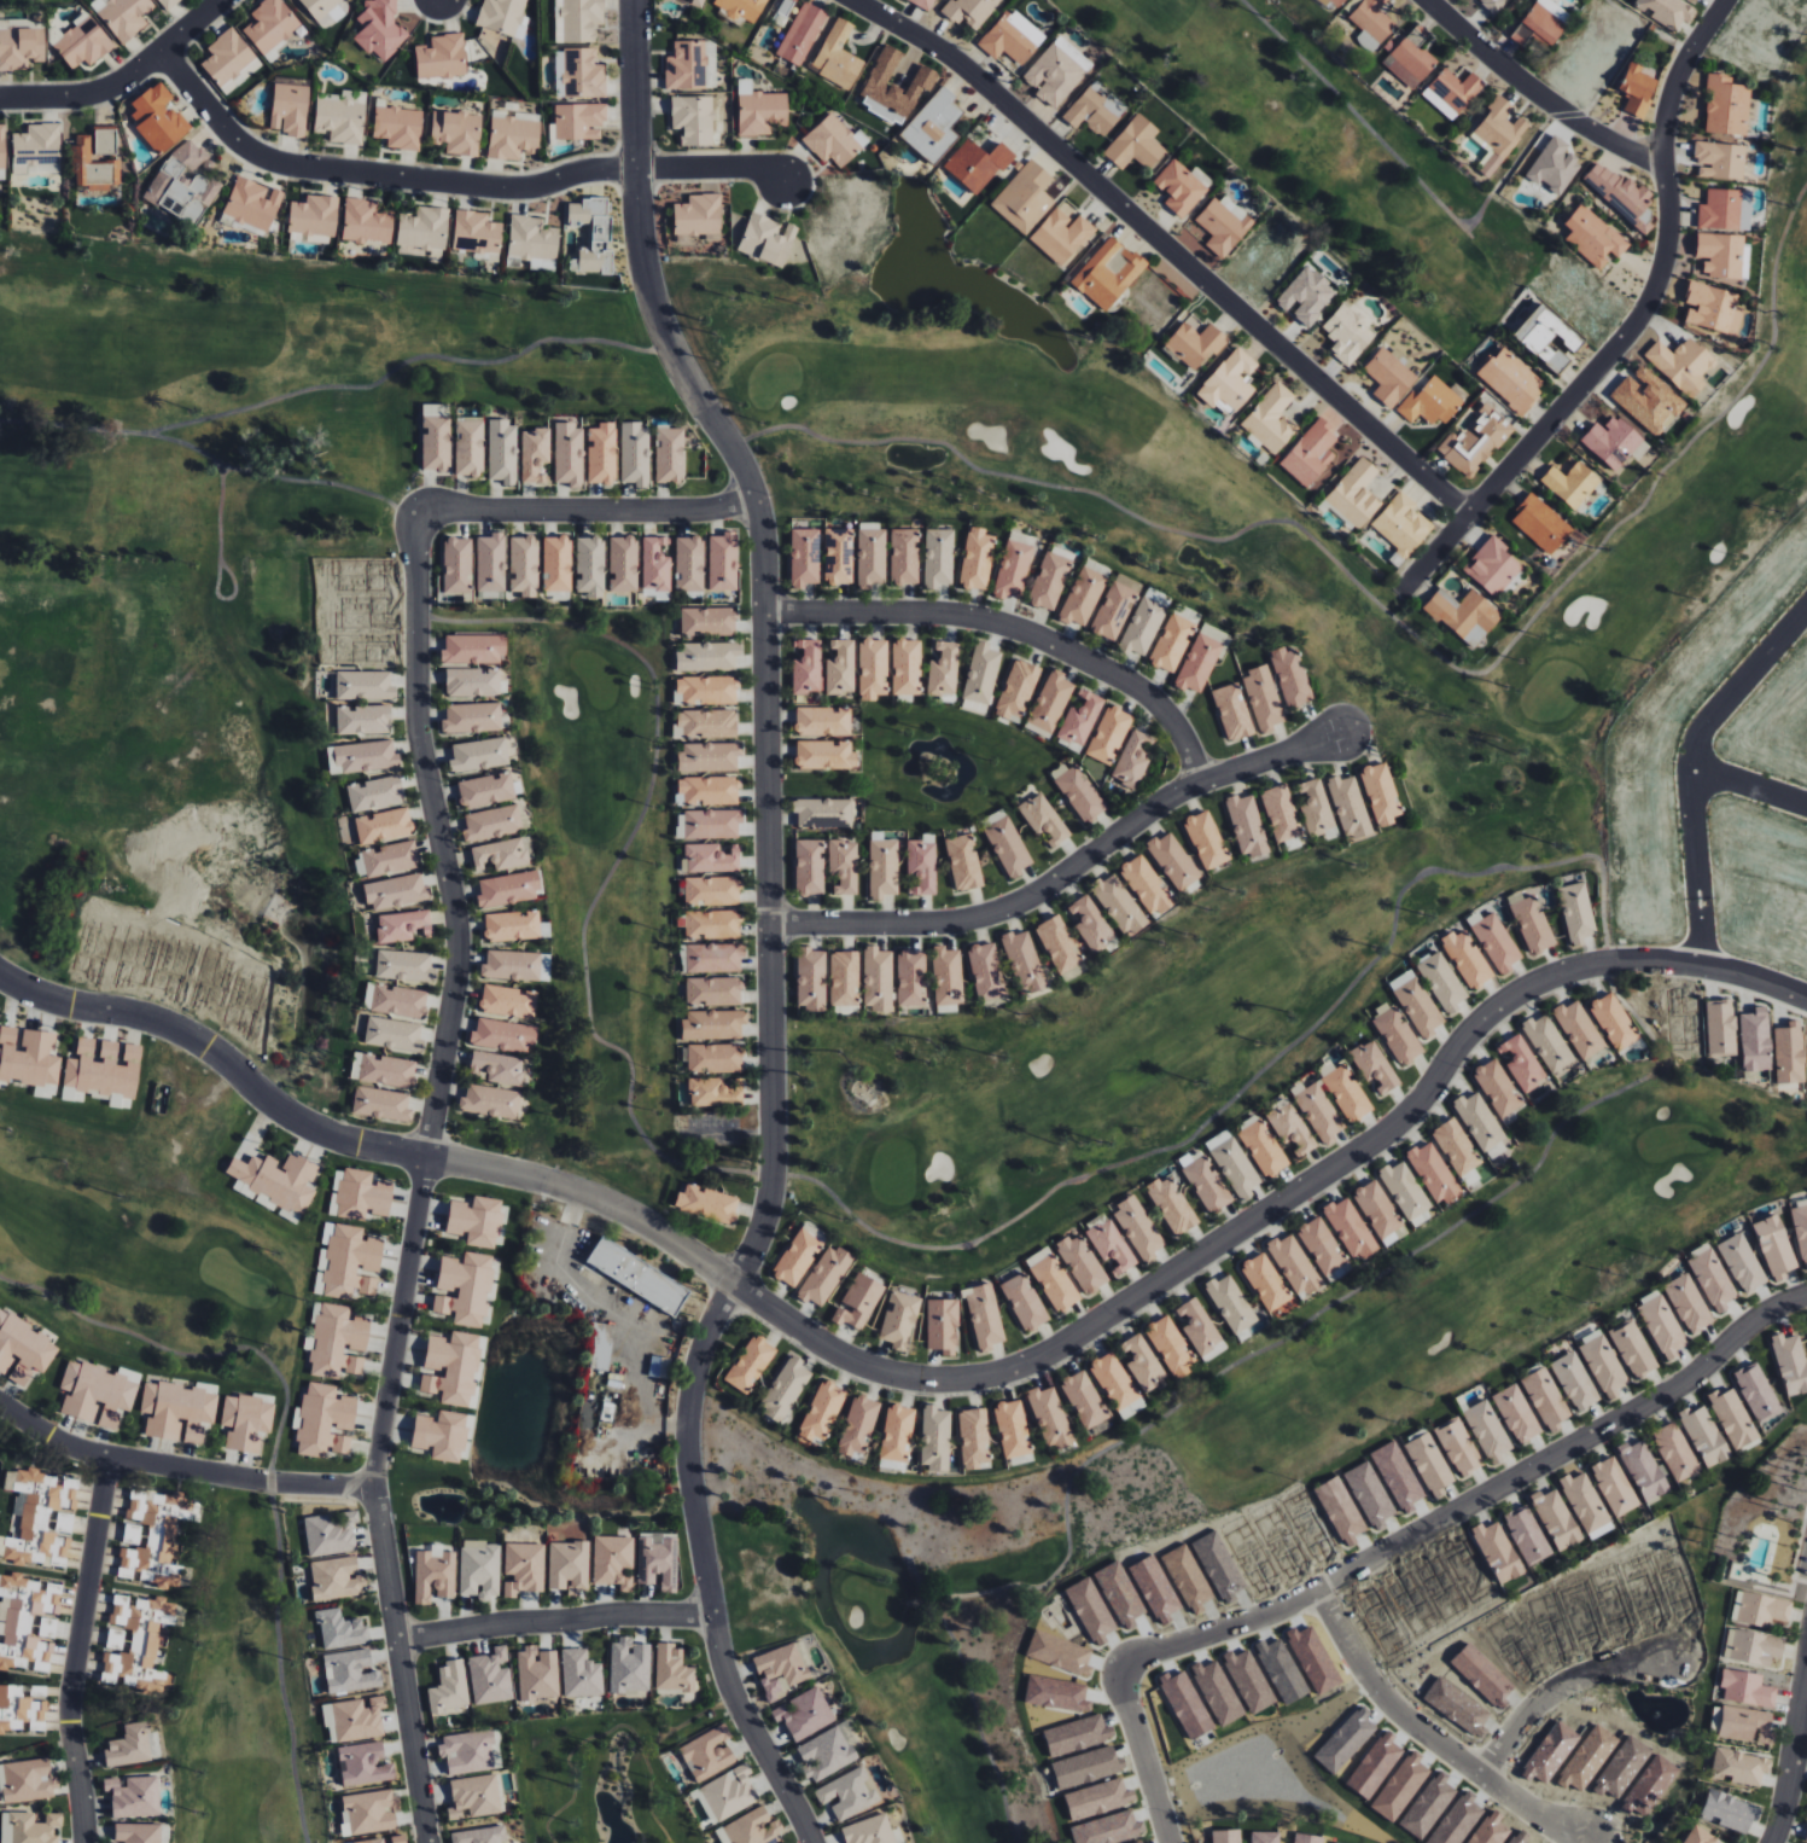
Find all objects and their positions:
building: (1475, 0)
park: (35, 2)
building: (167, 2)
building: (695, 2)
building: (922, 2)
building: (1337, 2)
building: (1493, 5)
building: (741, 7)
building: (326, 11)
building: (970, 11)
building: (1667, 11)
building: (785, 13)
building: (123, 16)
building: (502, 17)
building: (577, 19)
building: (1541, 22)
building: (1371, 23)
building: (270, 24)
building: (380, 28)
building: (802, 33)
building: (83, 41)
building: (1009, 41)
building: (21, 47)
building: (838, 56)
building: (227, 57)
building: (442, 57)
building: (1411, 58)
road: (1621, 63)
building: (689, 66)
building: (583, 72)
building: (1055, 72)
building: (241, 76)
road: (123, 80)
building: (893, 86)
building: (1456, 89)
building: (1638, 91)
road: (1537, 94)
building: (1726, 105)
building: (290, 106)
building: (759, 109)
building: (1094, 111)
building: (157, 117)
building: (342, 117)
building: (695, 120)
building: (578, 121)
building: (933, 126)
building: (398, 127)
building: (456, 132)
building: (1498, 134)
building: (513, 136)
building: (834, 140)
building: (105, 141)
building: (1136, 144)
building: (2, 146)
building: (37, 149)
park: (1339, 152)
building: (81, 158)
building: (1720, 159)
building: (978, 164)
building: (1555, 164)
road: (711, 169)
road: (1407, 169)
road: (636, 174)
road: (375, 175)
building: (185, 184)
building: (1182, 186)
building: (1621, 193)
building: (1025, 197)
building: (252, 203)
building: (1726, 209)
building: (698, 215)
building: (313, 219)
building: (366, 221)
building: (1224, 223)
building: (424, 227)
building: (476, 232)
building: (1062, 234)
building: (591, 236)
building: (1595, 236)
building: (766, 239)
building: (532, 240)
road: (1167, 248)
building: (1723, 255)
building: (1108, 273)
fountain: (927, 275)
fountain: (975, 295)
building: (1307, 296)
building: (1713, 308)
road: (1632, 327)
building: (1348, 335)
building: (1547, 337)
building: (1196, 342)
building: (1683, 364)
building: (1389, 377)
building: (1511, 379)
building: (1230, 380)
road: (339, 386)
road: (698, 396)
building: (1649, 400)
building: (1430, 402)
building: (1272, 418)
building: (1475, 441)
building: (435, 442)
building: (1614, 442)
building: (468, 446)
building: (502, 452)
building: (601, 453)
building: (634, 453)
building: (1311, 453)
building: (534, 454)
building: (569, 454)
building: (669, 455)
fountain: (914, 459)
road: (280, 479)
building: (1572, 481)
building: (1354, 494)
road: (584, 511)
building: (1401, 524)
building: (1541, 524)
building: (839, 556)
building: (872, 556)
building: (904, 556)
building: (805, 557)
building: (939, 557)
building: (978, 558)
road: (220, 562)
building: (490, 562)
building: (723, 562)
building: (555, 563)
building: (689, 563)
building: (623, 564)
building: (456, 565)
building: (523, 565)
building: (589, 565)
building: (654, 565)
building: (1015, 565)
road: (416, 566)
building: (1493, 566)
building: (1050, 581)
building: (1083, 597)
building: (1115, 606)
road: (1387, 612)
building: (1463, 612)
building: (707, 621)
building: (1142, 626)
road: (1014, 628)
building: (1172, 643)
building: (474, 649)
building: (707, 656)
building: (1199, 663)
building: (905, 667)
building: (806, 668)
building: (840, 668)
building: (944, 668)
building: (873, 669)
building: (981, 673)
building: (1292, 676)
building: (472, 682)
building: (363, 685)
building: (707, 690)
building: (1016, 690)
building: (1264, 698)
building: (1050, 702)
building: (1234, 711)
building: (471, 717)
building: (1080, 719)
building: (362, 720)
building: (822, 721)
building: (705, 723)
building: (1109, 734)
fountain: (940, 748)
building: (478, 755)
building: (824, 755)
building: (365, 756)
building: (709, 756)
building: (1132, 761)
road: (1690, 767)
road: (1748, 785)
building: (485, 790)
building: (709, 790)
building: (1079, 792)
building: (374, 793)
building: (1381, 793)
fountain: (945, 795)
building: (1350, 807)
building: (1317, 809)
building: (823, 812)
building: (1281, 813)
building: (995, 816)
building: (1044, 819)
building: (492, 822)
building: (712, 824)
building: (383, 825)
building: (1247, 825)
building: (1206, 839)
building: (1008, 847)
building: (500, 854)
building: (710, 857)
building: (386, 860)
road: (618, 860)
building: (1174, 861)
building: (963, 862)
building: (922, 864)
road: (768, 866)
building: (844, 866)
building: (810, 867)
building: (882, 868)
road: (1068, 873)
building: (1147, 885)
building: (507, 889)
building: (396, 891)
building: (711, 891)
fountain: (235, 893)
building: (1119, 903)
building: (1576, 913)
building: (1532, 923)
building: (712, 924)
building: (402, 925)
building: (512, 925)
building: (1092, 925)
building: (1496, 941)
park: (1278, 942)
building: (1059, 944)
building: (713, 957)
building: (1467, 958)
building: (1024, 961)
building: (511, 965)
building: (403, 966)
building: (544, 967)
building: (986, 971)
building: (948, 976)
building: (811, 978)
building: (844, 978)
building: (878, 978)
building: (910, 978)
building: (1442, 982)
building: (712, 990)
building: (395, 1001)
building: (508, 1001)
building: (1417, 1004)
fountain: (316, 1006)
building: (1614, 1021)
building: (713, 1024)
building: (1721, 1028)
building: (1580, 1029)
building: (1397, 1033)
building: (392, 1034)
building: (502, 1035)
building: (1756, 1040)
building: (1547, 1042)
building: (1789, 1053)
building: (28, 1057)
building: (715, 1058)
building: (1523, 1063)
building: (1375, 1066)
building: (497, 1068)
building: (103, 1069)
building: (383, 1070)
road: (1254, 1077)
building: (1498, 1088)
building: (716, 1092)
fountain: (859, 1092)
building: (1347, 1093)
building: (490, 1101)
building: (381, 1104)
building: (1318, 1111)
building: (1482, 1126)
building: (1292, 1128)
building: (1456, 1147)
building: (1264, 1149)
building: (1234, 1164)
building: (1434, 1173)
building: (276, 1180)
building: (1207, 1185)
building: (1405, 1190)
building: (359, 1194)
building: (706, 1203)
building: (1172, 1207)
building: (1380, 1211)
building: (477, 1221)
road: (567, 1227)
building: (1138, 1228)
building: (1350, 1228)
building: (1801, 1228)
road: (415, 1229)
building: (1112, 1246)
building: (1322, 1246)
building: (1776, 1248)
building: (797, 1257)
building: (348, 1261)
building: (1082, 1263)
building: (1742, 1263)
building: (1295, 1266)
building: (824, 1275)
building: (635, 1277)
building: (1713, 1280)
building: (1265, 1281)
building: (1055, 1284)
building: (465, 1287)
building: (858, 1302)
building: (1024, 1302)
building: (1689, 1303)
building: (1232, 1307)
building: (984, 1316)
building: (899, 1320)
building: (1661, 1324)
building: (943, 1326)
building: (1199, 1327)
building: (336, 1341)
building: (596, 1345)
building: (1171, 1347)
building: (23, 1349)
building: (1634, 1350)
road: (640, 1353)
road: (192, 1355)
building: (1142, 1362)
building: (750, 1364)
building: (1791, 1364)
building: (1603, 1365)
building: (451, 1367)
road: (1218, 1373)
road: (922, 1380)
building: (1575, 1382)
building: (1117, 1385)
building: (786, 1389)
building: (98, 1393)
building: (1758, 1393)
building: (1546, 1399)
building: (1084, 1400)
building: (176, 1411)
building: (821, 1414)
building: (1517, 1414)
building: (1050, 1417)
building: (1732, 1418)
building: (323, 1420)
building: (245, 1422)
road: (660, 1425)
building: (858, 1426)
building: (1012, 1429)
building: (1487, 1430)
building: (897, 1434)
building: (441, 1435)
building: (1704, 1436)
building: (974, 1438)
building: (935, 1440)
building: (1458, 1447)
building: (1675, 1452)
building: (1430, 1465)
park: (1, 1467)
road: (180, 1467)
building: (1644, 1471)
building: (1398, 1475)
fountain: (757, 1487)
building: (1614, 1487)
building: (1370, 1493)
fountain: (573, 1500)
road: (1473, 1501)
building: (1585, 1502)
fountain: (441, 1508)
building: (41, 1517)
building: (1556, 1519)
building: (331, 1534)
building: (1527, 1535)
fountain: (841, 1536)
building: (155, 1537)
building: (1498, 1552)
building: (660, 1560)
building: (613, 1562)
building: (569, 1566)
building: (524, 1568)
building: (480, 1569)
road: (706, 1569)
building: (433, 1575)
building: (337, 1579)
road: (927, 1603)
road: (913, 1604)
building: (1762, 1610)
road: (555, 1621)
building: (27, 1622)
building: (340, 1629)
building: (115, 1639)
building: (1753, 1649)
road: (77, 1650)
road: (280, 1663)
building: (629, 1665)
building: (782, 1668)
building: (672, 1670)
building: (350, 1672)
building: (537, 1673)
building: (581, 1673)
building: (490, 1675)
road: (1562, 1686)
building: (449, 1688)
building: (1747, 1688)
building: (22, 1709)
building: (804, 1713)
fountain: (1656, 1716)
building: (355, 1719)
road: (687, 1722)
building: (1747, 1725)
road: (608, 1731)
road: (1433, 1739)
building: (133, 1745)
fountain: (620, 1745)
building: (467, 1751)
building: (709, 1752)
building: (828, 1752)
road: (1143, 1755)
road: (1793, 1758)
building: (365, 1764)
building: (1739, 1767)
building: (27, 1780)
building: (729, 1792)
building: (849, 1792)
building: (134, 1796)
building: (474, 1797)
building: (1729, 1810)
building: (368, 1813)
building: (29, 1827)
building: (753, 1827)
building: (869, 1831)
building: (138, 1832)
building: (479, 1835)
building: (1226, 1836)
building: (1265, 1837)
building: (1701, 1837)
building: (1806, 1837)
building: (398, 1838)
building: (1307, 1838)
building: (373, 1841)

